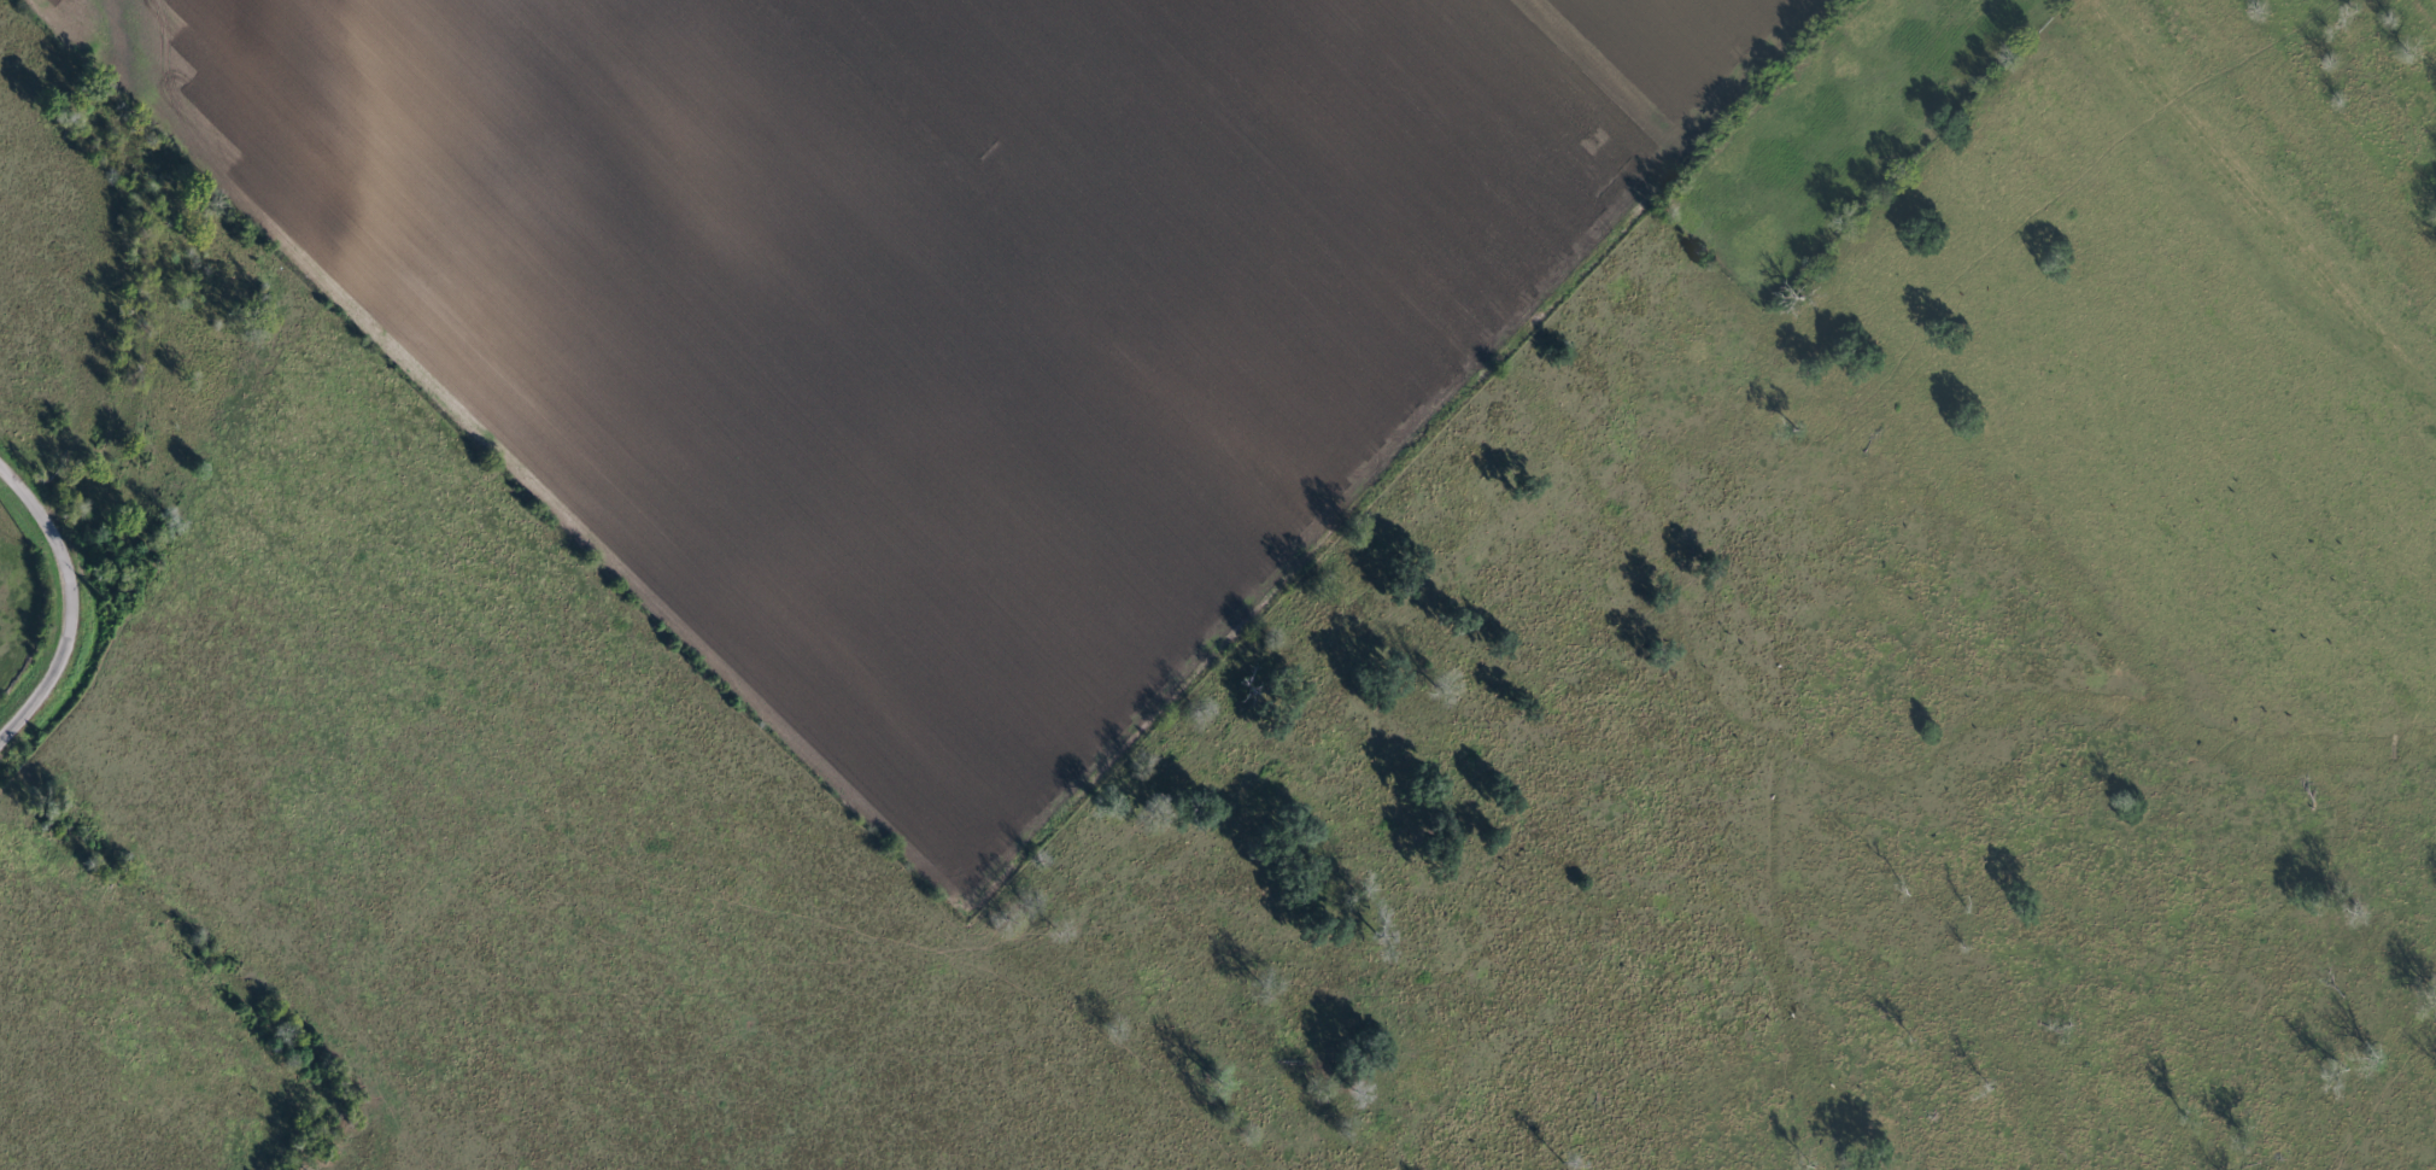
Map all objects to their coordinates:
road: (64, 603)

